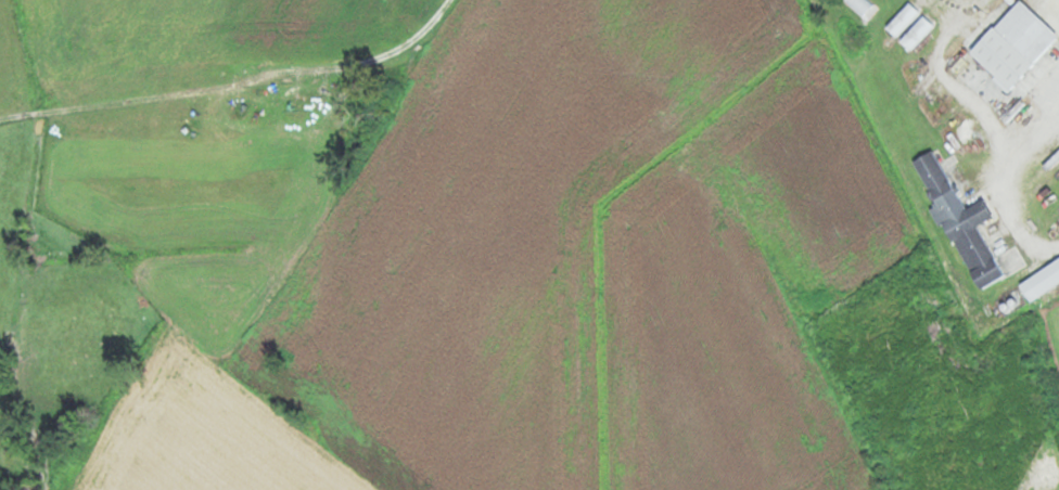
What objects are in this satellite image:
building: (859, 4)
road: (472, 15)
building: (908, 26)
building: (1012, 44)
road: (944, 146)
building: (959, 221)
building: (1039, 280)

